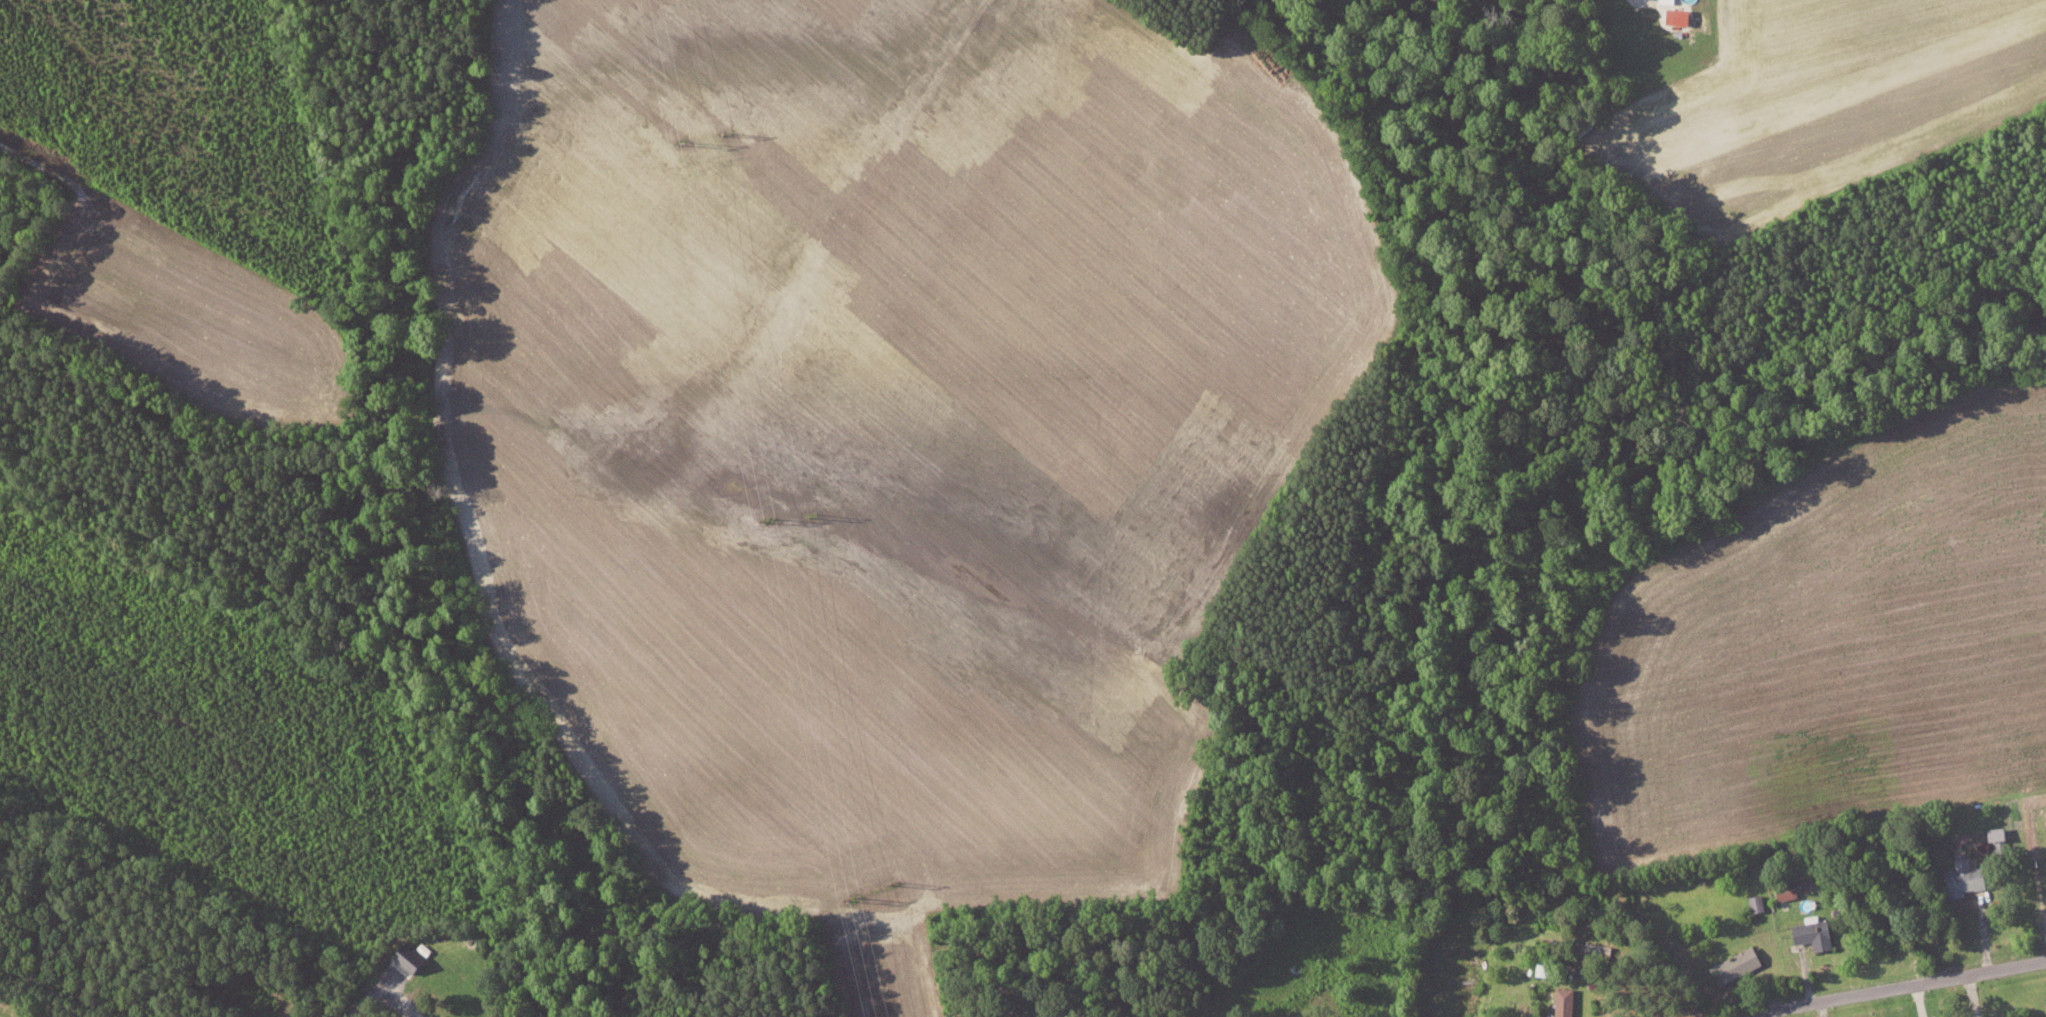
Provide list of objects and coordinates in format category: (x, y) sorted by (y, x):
building: (1667, 1)
power tower: (728, 135)
power tower: (685, 141)
power tower: (814, 516)
power tower: (769, 520)
building: (1993, 837)
building: (2045, 867)
building: (1957, 878)
power tower: (894, 884)
power tower: (855, 897)
building: (1754, 902)
building: (1809, 932)
building: (411, 957)
building: (1590, 964)
building: (1731, 965)
building: (1543, 968)
road: (1899, 984)

